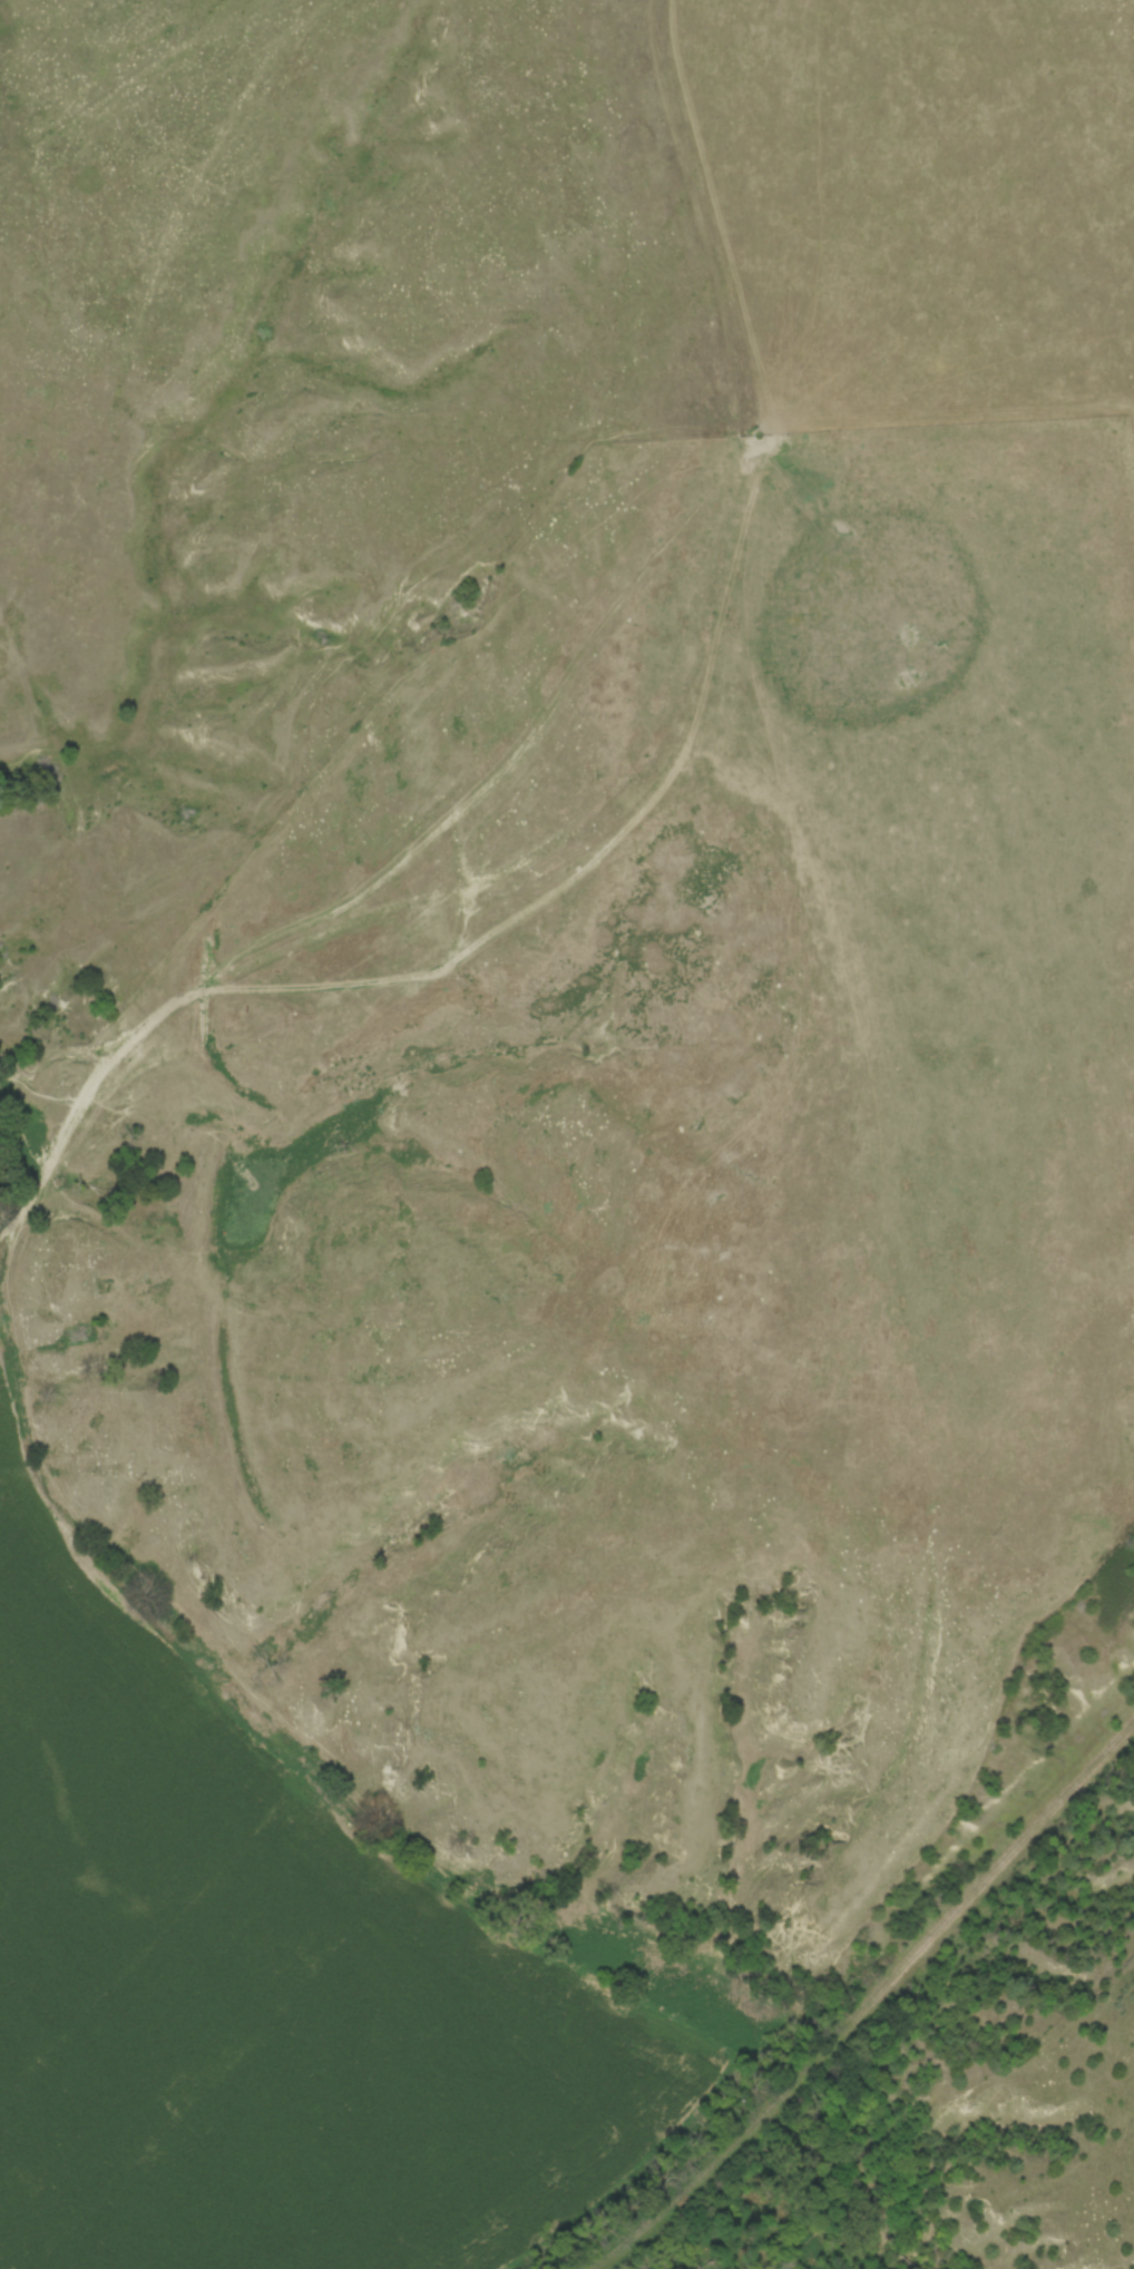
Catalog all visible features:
railway: (864, 1996)

